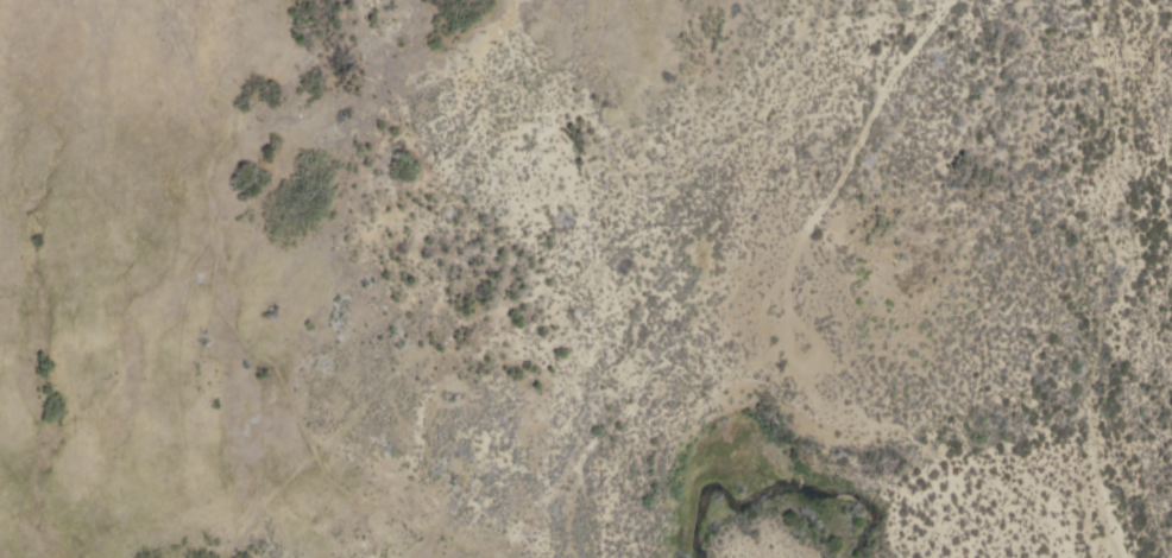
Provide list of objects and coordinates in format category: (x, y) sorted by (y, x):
road: (848, 180)

